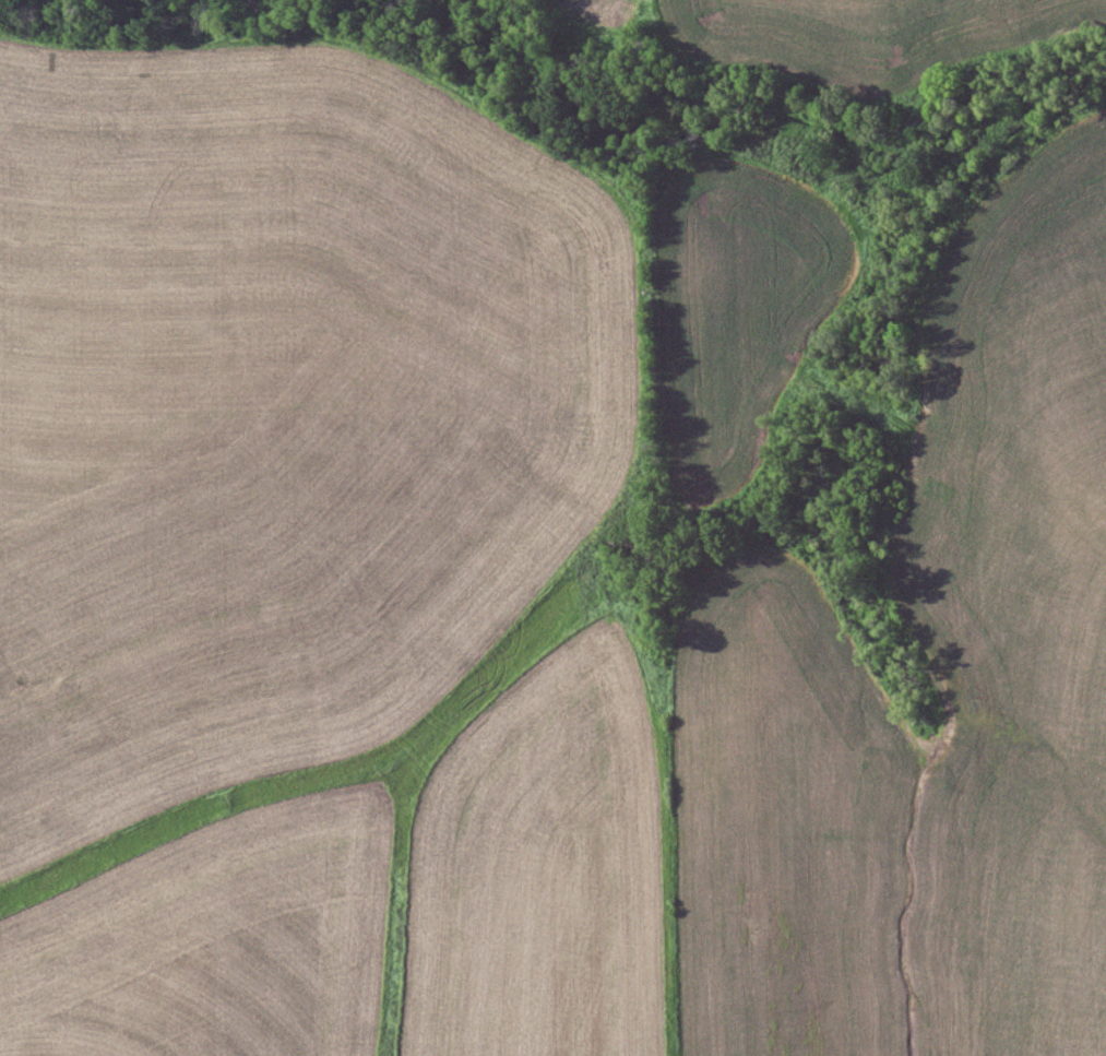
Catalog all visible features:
building: (23, 831)

